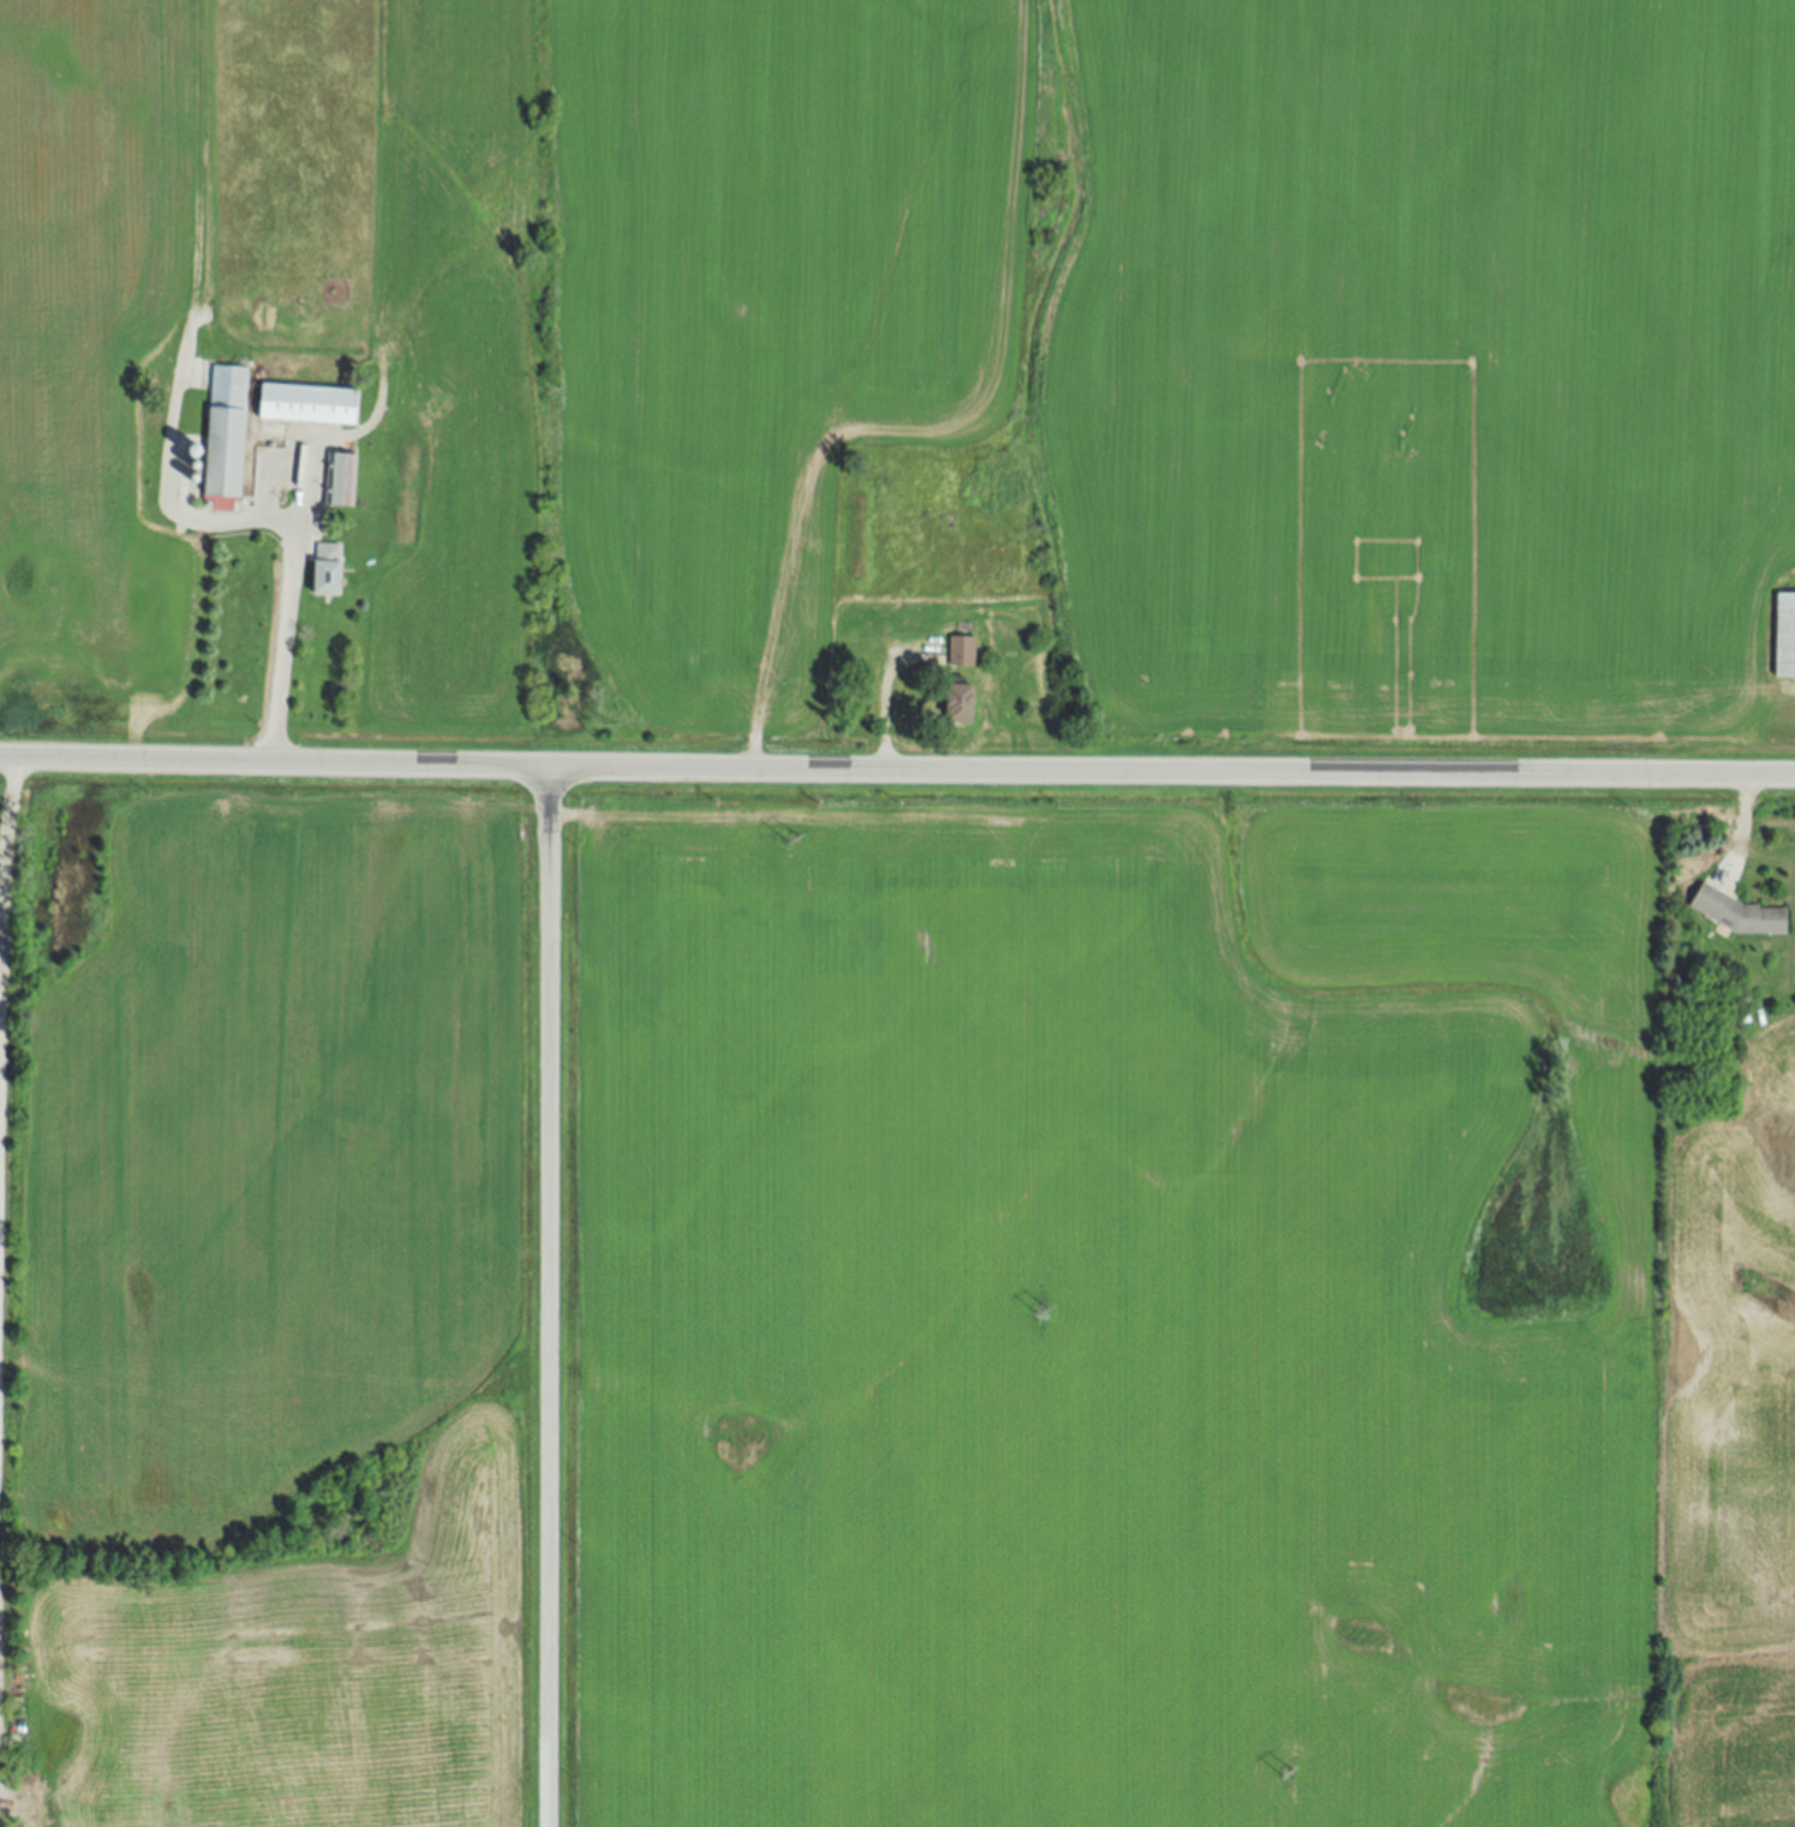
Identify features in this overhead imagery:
power tower: (554, 388)
building: (310, 406)
building: (226, 439)
building: (340, 481)
building: (329, 571)
road: (289, 609)
building: (1785, 637)
building: (963, 654)
building: (962, 706)
road: (884, 719)
road: (897, 771)
road: (1743, 811)
road: (10, 813)
power tower: (792, 840)
building: (1741, 915)
road: (551, 1298)
power tower: (1042, 1312)
power tower: (1287, 1774)

